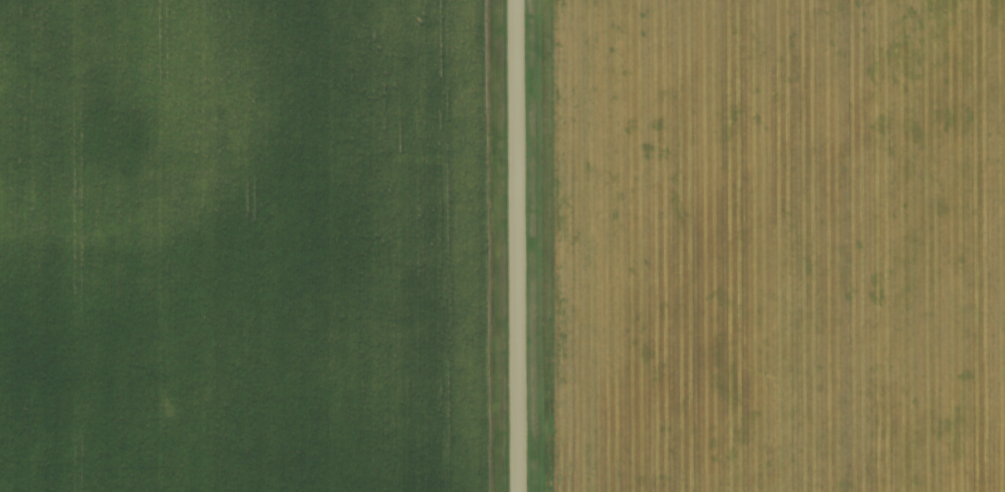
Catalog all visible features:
road: (517, 246)

